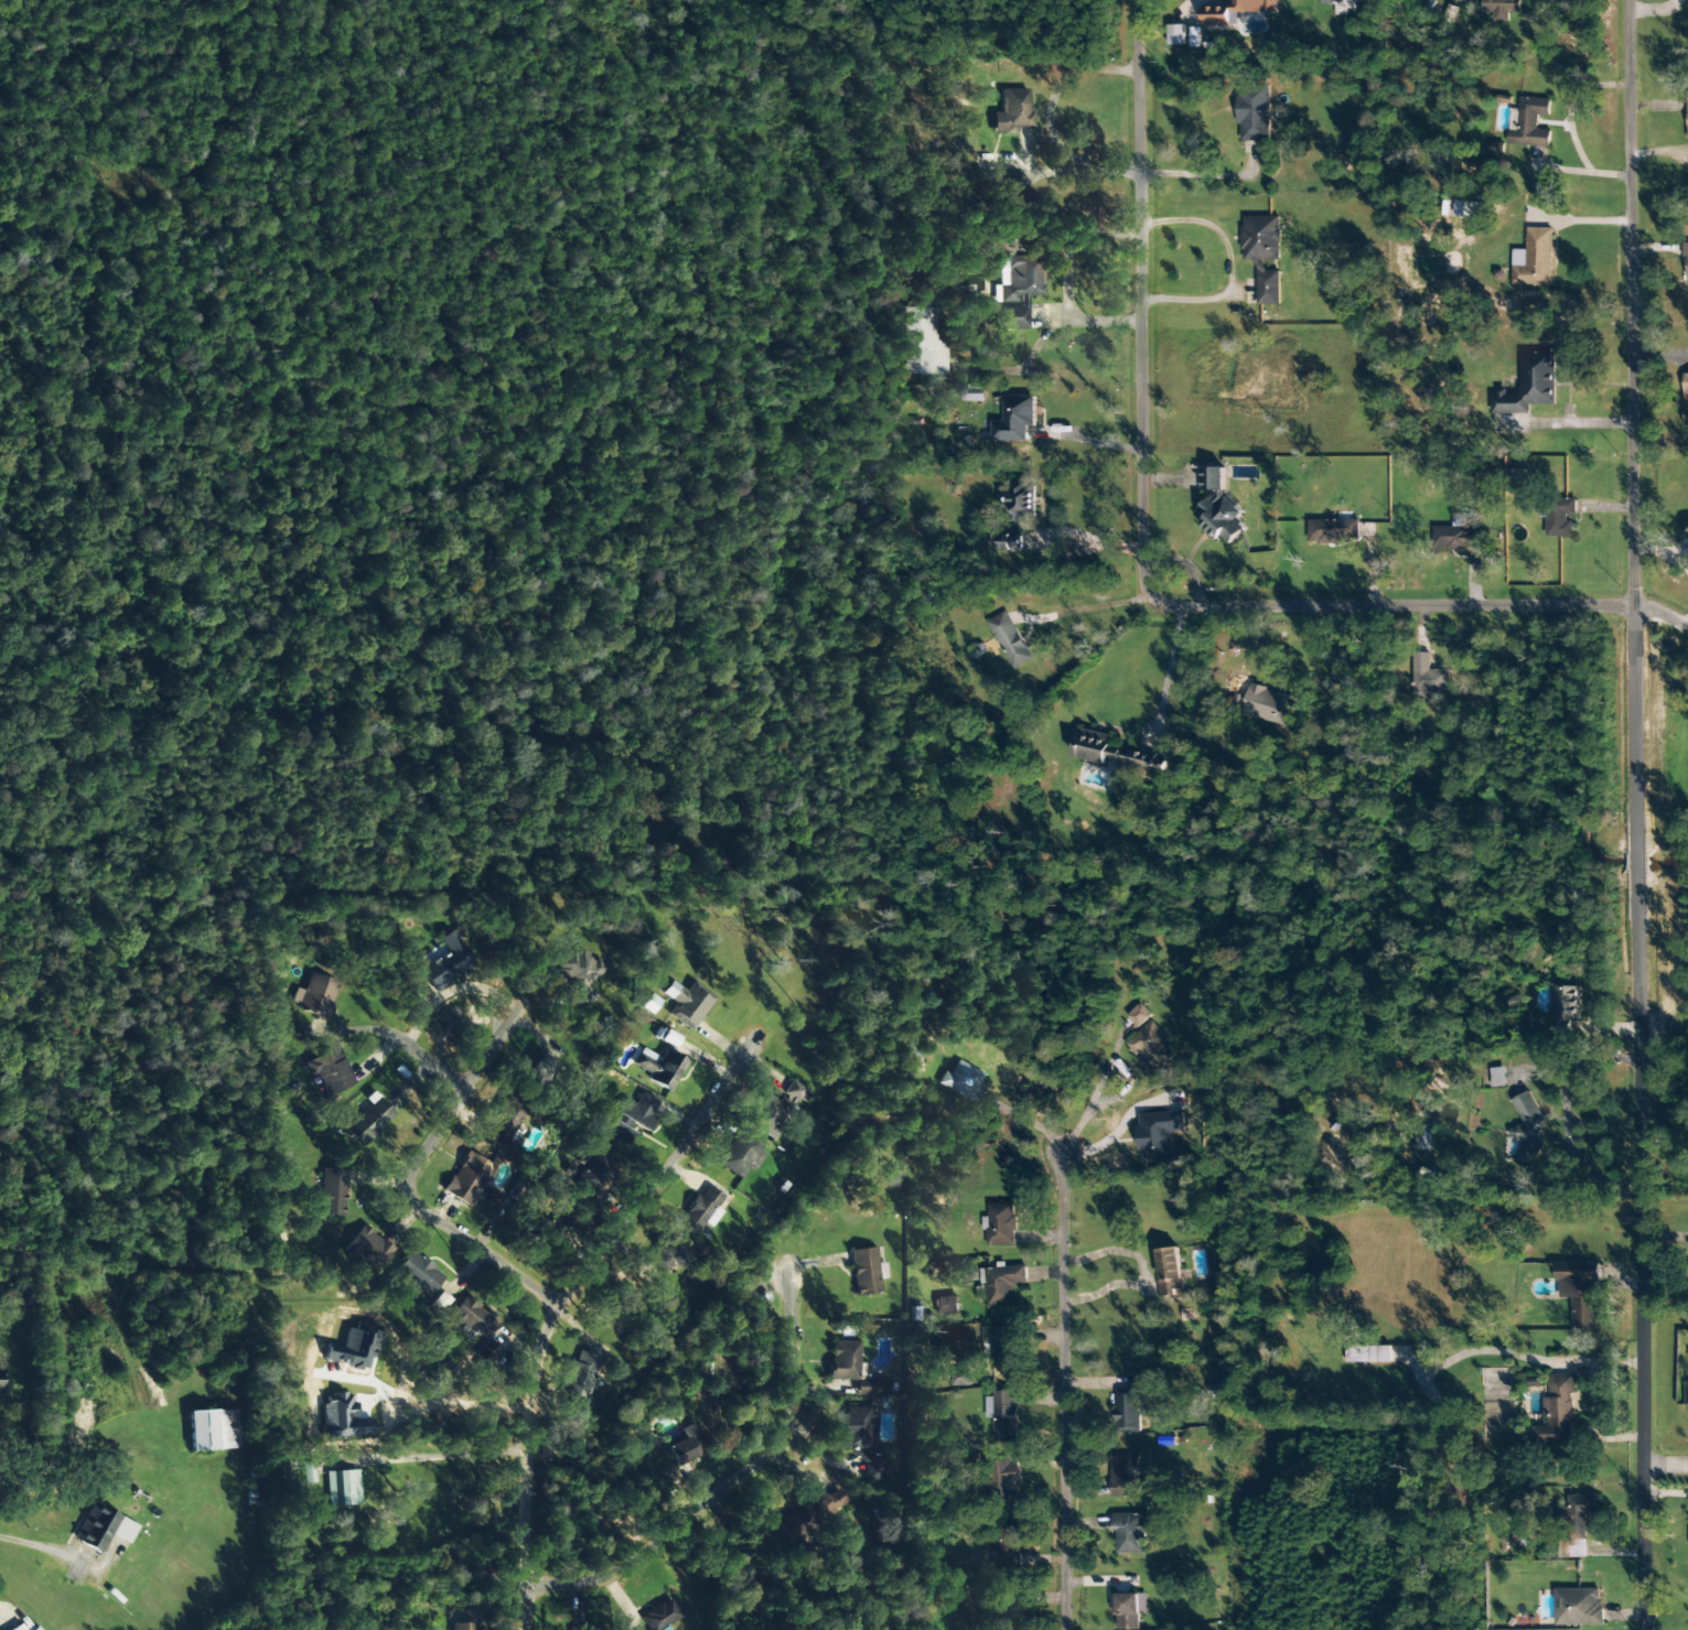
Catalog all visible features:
building: (1335, 1)
building: (1501, 9)
building: (1236, 11)
building: (1176, 35)
building: (1195, 37)
building: (1012, 112)
building: (1254, 114)
building: (1687, 116)
building: (1531, 123)
road: (1225, 175)
building: (1473, 211)
building: (1262, 255)
building: (1534, 259)
building: (1686, 260)
road: (1254, 263)
building: (1492, 280)
building: (1018, 291)
building: (922, 343)
building: (1529, 386)
building: (972, 392)
building: (1685, 399)
building: (1015, 420)
building: (1519, 475)
building: (1020, 500)
building: (1219, 507)
building: (1559, 517)
road: (1160, 531)
building: (1333, 531)
building: (1687, 536)
building: (1456, 537)
building: (1011, 541)
road: (1094, 611)
road: (1655, 615)
building: (1010, 640)
building: (977, 651)
building: (1426, 677)
building: (1268, 705)
road: (1637, 814)
building: (447, 962)
building: (579, 969)
building: (316, 996)
building: (687, 1003)
building: (1139, 1015)
road: (367, 1032)
building: (1150, 1047)
building: (659, 1068)
building: (330, 1071)
building: (537, 1073)
building: (1497, 1077)
building: (960, 1080)
building: (795, 1092)
building: (637, 1111)
building: (768, 1115)
building: (369, 1120)
building: (505, 1122)
building: (1528, 1131)
building: (620, 1134)
building: (1158, 1134)
building: (1423, 1136)
building: (740, 1154)
building: (593, 1176)
building: (1426, 1176)
building: (467, 1179)
building: (332, 1192)
road: (437, 1192)
building: (699, 1211)
building: (1000, 1224)
building: (544, 1229)
building: (368, 1250)
building: (668, 1256)
building: (865, 1272)
building: (1171, 1273)
building: (418, 1274)
building: (1003, 1284)
building: (1581, 1292)
building: (17, 1300)
road: (557, 1302)
building: (946, 1306)
building: (472, 1318)
building: (1002, 1346)
building: (488, 1350)
building: (1368, 1354)
building: (842, 1360)
building: (581, 1375)
building: (871, 1388)
road: (1052, 1388)
building: (1687, 1394)
building: (1129, 1407)
building: (1558, 1412)
building: (1003, 1415)
building: (212, 1431)
building: (862, 1440)
building: (686, 1445)
road: (434, 1456)
road: (1666, 1467)
road: (707, 1471)
building: (1126, 1476)
building: (1007, 1479)
building: (342, 1488)
building: (1578, 1514)
building: (807, 1516)
building: (101, 1529)
building: (1131, 1533)
building: (1007, 1547)
building: (1578, 1607)
building: (1129, 1610)
building: (659, 1616)
building: (1004, 1617)
building: (464, 1627)
building: (19, 1628)
building: (580, 1628)
building: (34, 1629)

